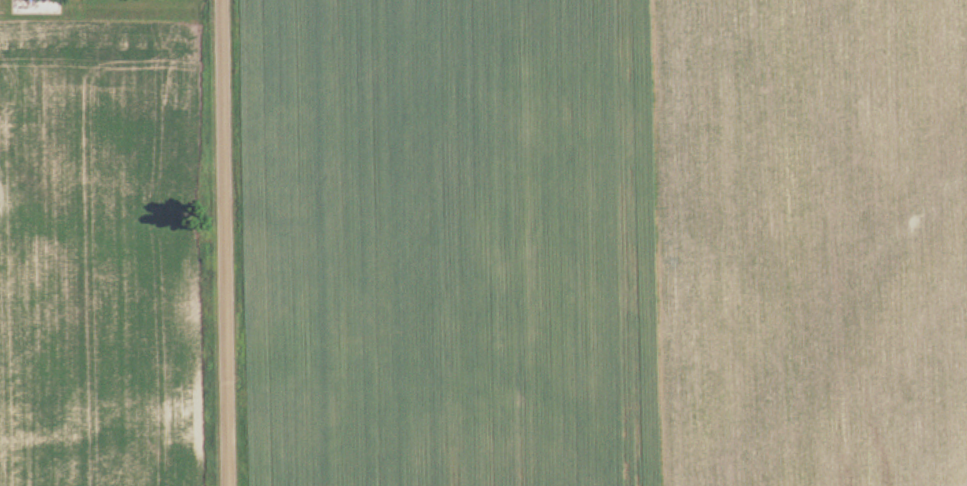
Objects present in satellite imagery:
building: (37, 7)
road: (224, 243)

